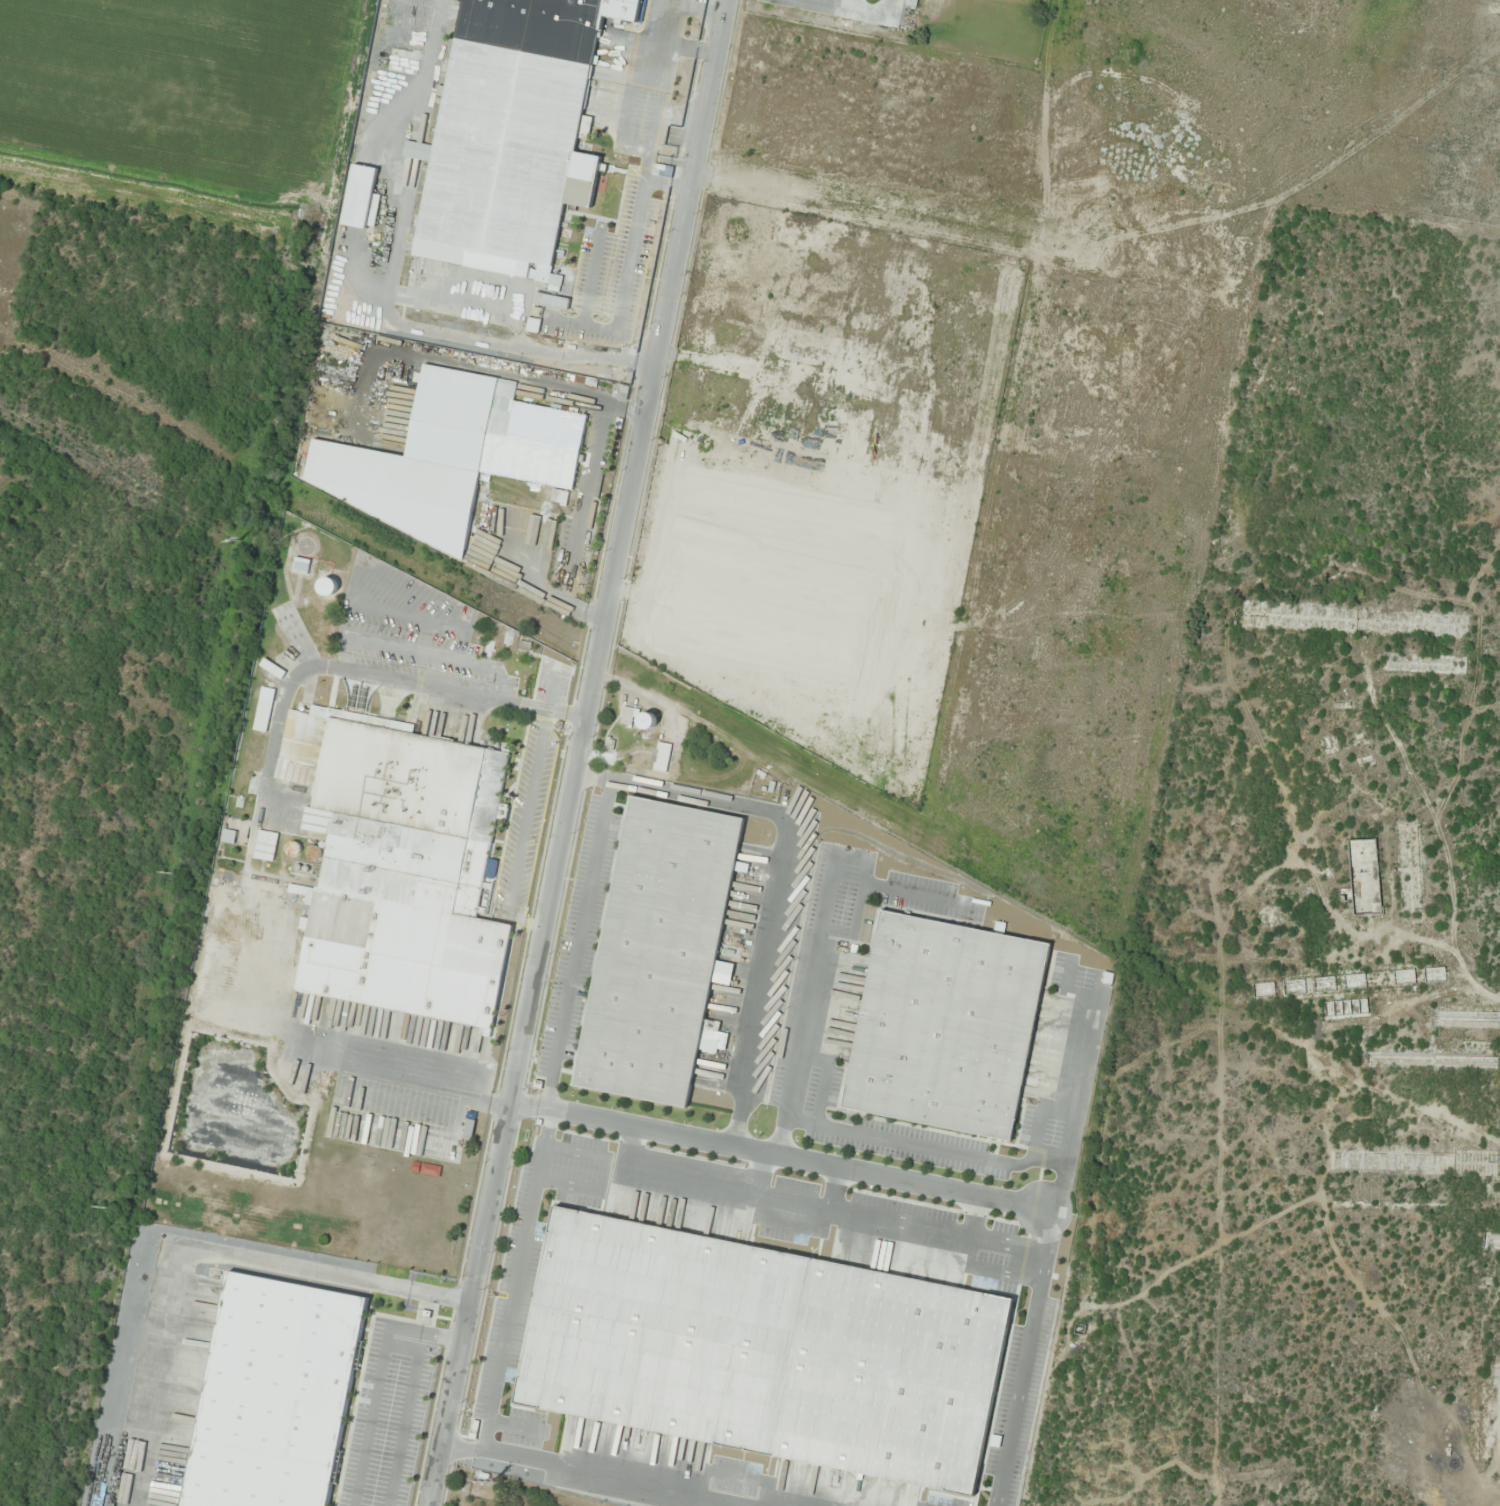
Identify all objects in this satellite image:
power tower: (254, 538)
power tower: (187, 871)
power tower: (124, 1205)

